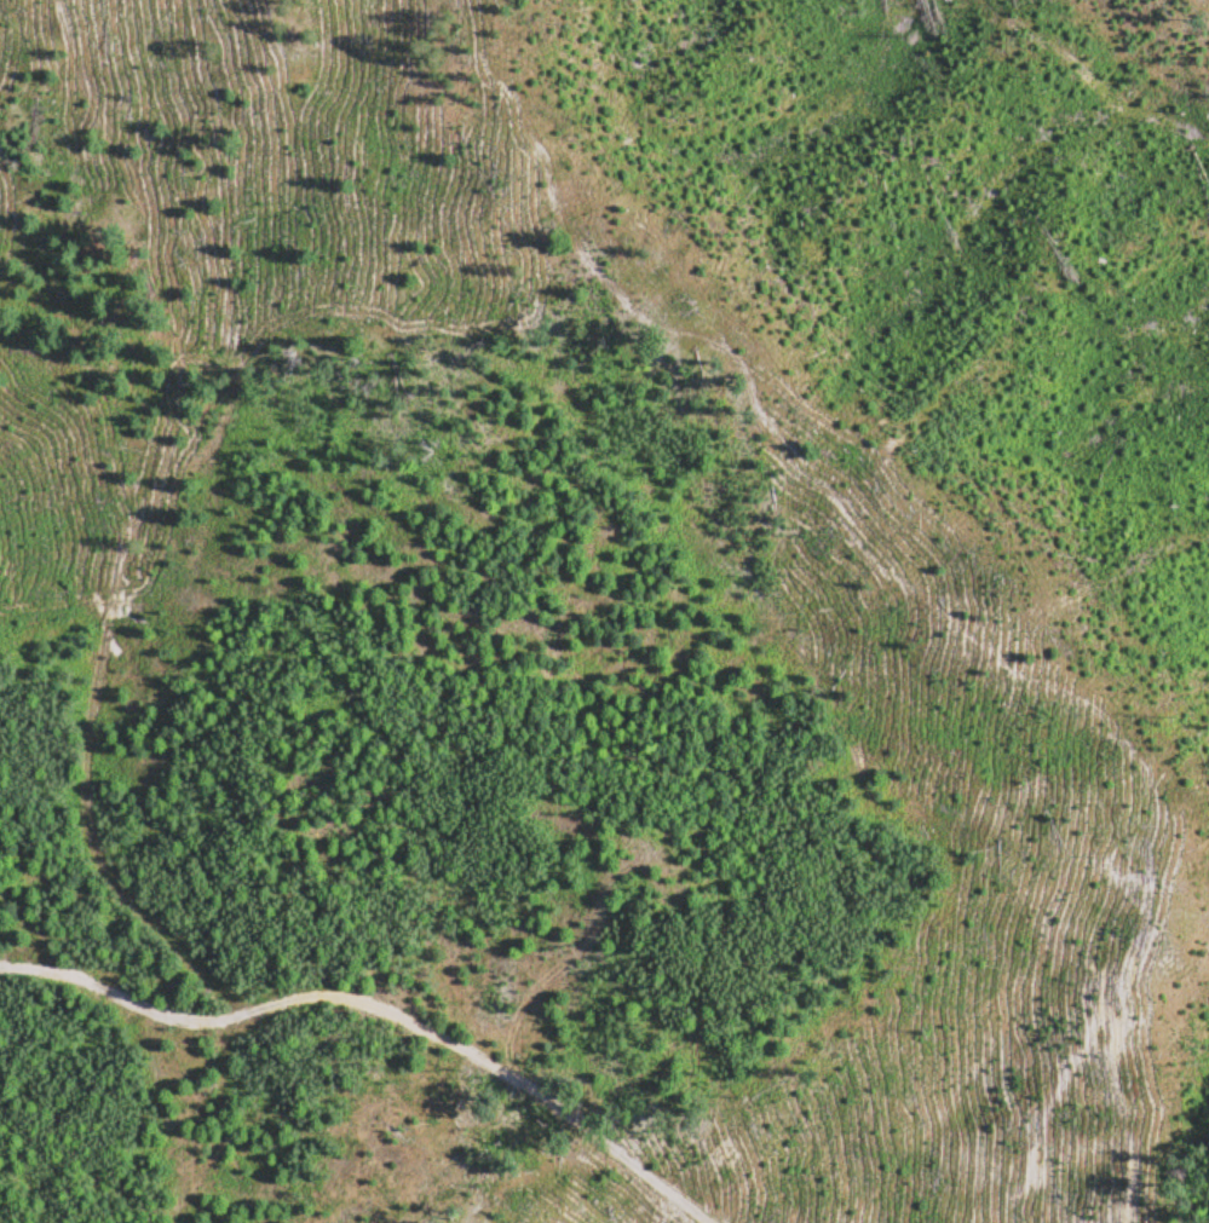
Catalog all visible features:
road: (143, 520)
road: (954, 584)
road: (379, 1016)

